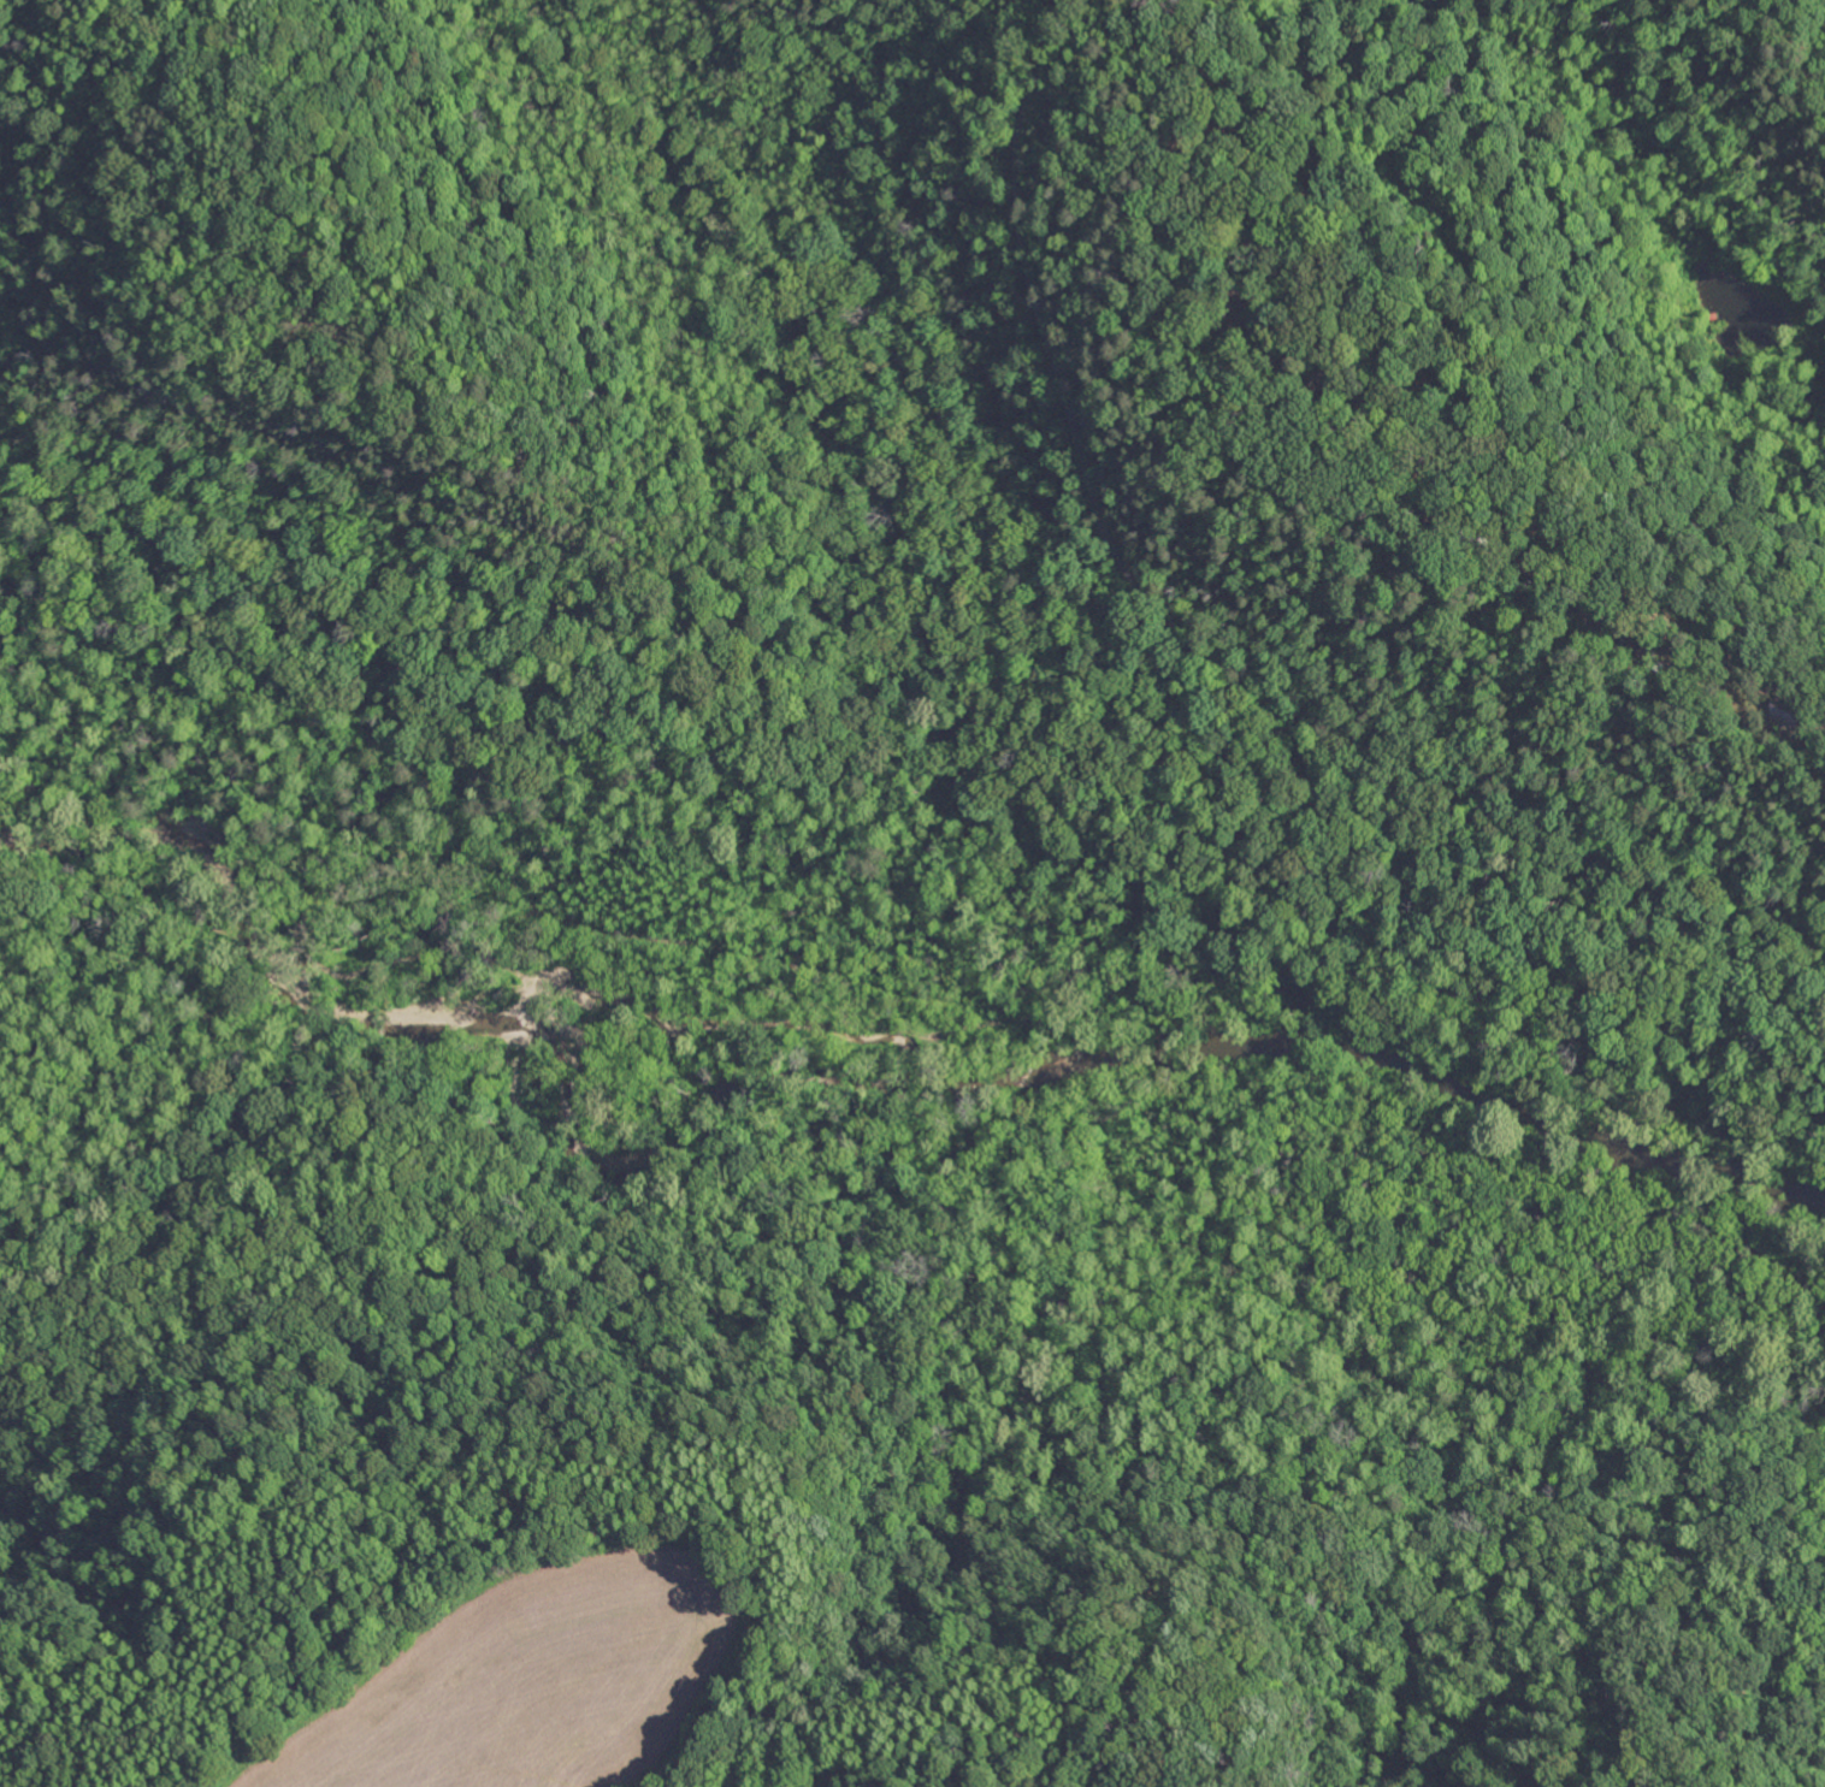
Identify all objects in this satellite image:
road: (1215, 662)

